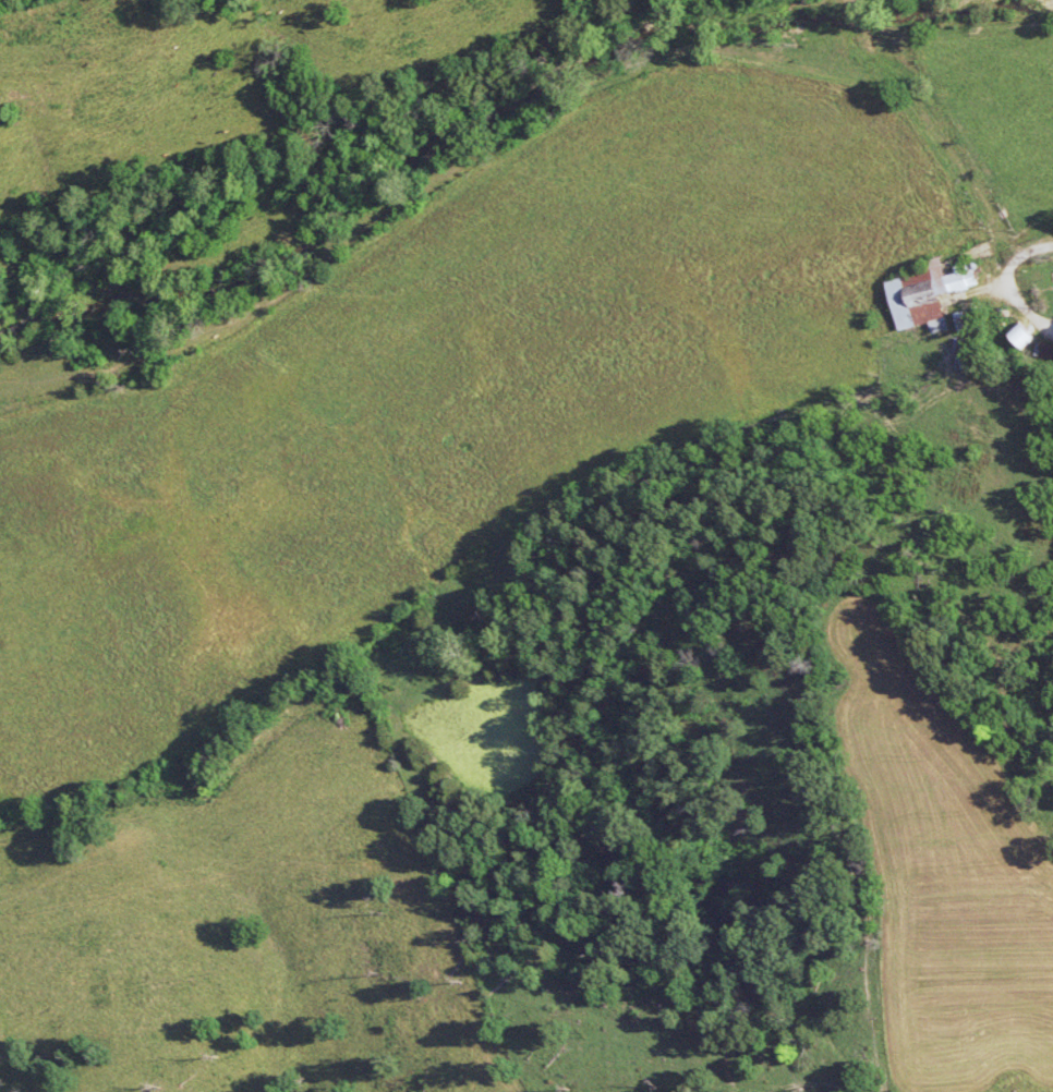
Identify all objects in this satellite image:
building: (923, 295)
building: (943, 326)
building: (1046, 350)

